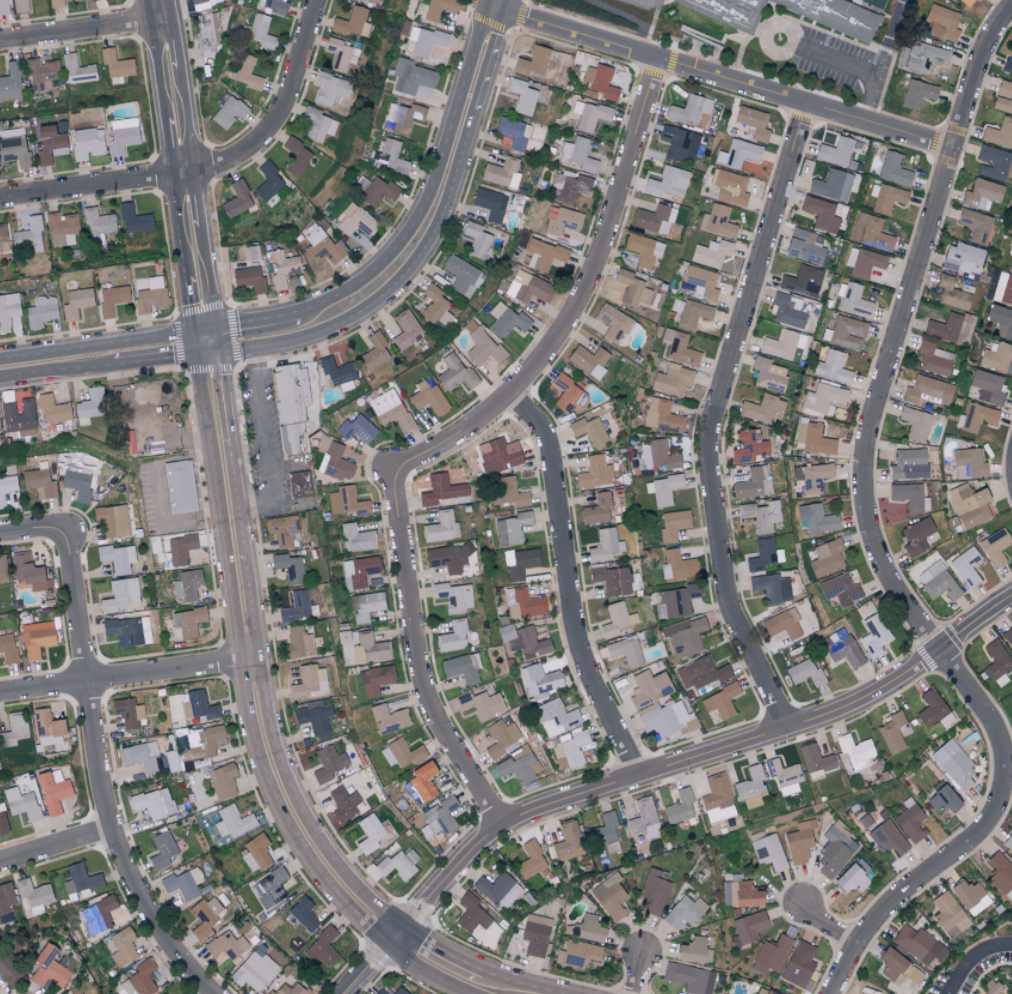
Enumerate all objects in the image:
building: (92, 0)
building: (659, 0)
building: (62, 1)
building: (373, 1)
building: (882, 2)
building: (967, 2)
building: (200, 4)
building: (20, 6)
building: (277, 6)
building: (3, 7)
road: (499, 9)
building: (441, 11)
building: (353, 22)
building: (942, 22)
road: (81, 28)
building: (854, 29)
building: (261, 32)
road: (768, 34)
building: (207, 35)
road: (886, 38)
building: (424, 41)
building: (340, 55)
building: (923, 56)
building: (532, 61)
building: (116, 64)
parking lot: (841, 64)
building: (1007, 66)
road: (853, 68)
building: (77, 70)
road: (974, 71)
building: (246, 72)
building: (41, 74)
building: (412, 78)
building: (10, 82)
building: (599, 82)
road: (723, 82)
building: (329, 89)
building: (917, 93)
building: (522, 97)
building: (1003, 97)
building: (227, 110)
building: (690, 110)
building: (589, 115)
building: (401, 117)
building: (753, 122)
building: (317, 124)
building: (513, 132)
building: (999, 133)
building: (122, 135)
building: (86, 143)
building: (49, 144)
building: (679, 144)
building: (13, 147)
building: (838, 152)
building: (738, 153)
building: (577, 155)
building: (296, 157)
building: (388, 157)
building: (992, 162)
road: (208, 165)
road: (184, 169)
building: (893, 169)
building: (501, 173)
building: (268, 182)
building: (667, 182)
building: (569, 185)
building: (831, 185)
building: (729, 187)
building: (374, 190)
building: (886, 198)
building: (237, 200)
building: (490, 204)
building: (821, 214)
building: (653, 219)
building: (134, 220)
building: (355, 220)
building: (561, 220)
building: (717, 221)
building: (976, 225)
building: (98, 226)
building: (61, 228)
building: (874, 232)
building: (29, 235)
building: (2, 238)
building: (476, 240)
road: (418, 244)
building: (321, 246)
building: (805, 246)
building: (643, 249)
building: (251, 253)
building: (710, 253)
building: (543, 254)
building: (963, 258)
building: (864, 262)
building: (1010, 263)
building: (282, 269)
building: (462, 276)
building: (249, 279)
building: (802, 281)
building: (701, 283)
building: (527, 288)
building: (632, 289)
building: (1003, 289)
building: (148, 293)
building: (953, 293)
building: (111, 299)
building: (853, 300)
building: (76, 303)
building: (435, 308)
building: (8, 310)
building: (39, 312)
building: (786, 312)
building: (693, 314)
building: (506, 320)
building: (1001, 320)
building: (613, 322)
building: (944, 328)
building: (405, 329)
building: (848, 332)
traffic signals: (206, 340)
building: (782, 344)
building: (679, 347)
building: (374, 352)
road: (103, 354)
building: (996, 357)
building: (587, 358)
building: (934, 359)
building: (832, 367)
building: (335, 371)
building: (455, 374)
building: (768, 374)
building: (672, 380)
building: (987, 387)
building: (928, 391)
building: (565, 392)
building: (428, 398)
building: (823, 400)
building: (7, 406)
building: (90, 406)
building: (292, 408)
building: (762, 409)
building: (389, 410)
building: (55, 412)
building: (662, 416)
building: (976, 417)
road: (712, 418)
building: (915, 423)
road: (207, 426)
building: (356, 429)
building: (589, 431)
road: (265, 436)
building: (813, 438)
road: (450, 439)
building: (749, 447)
building: (498, 455)
building: (658, 456)
building: (335, 463)
building: (908, 464)
building: (968, 464)
building: (595, 473)
building: (811, 478)
building: (39, 483)
building: (753, 483)
building: (77, 485)
building: (303, 486)
building: (7, 487)
building: (183, 488)
building: (662, 489)
road: (157, 491)
building: (442, 491)
building: (509, 492)
building: (910, 497)
building: (346, 501)
building: (970, 505)
building: (597, 510)
building: (761, 515)
building: (815, 519)
building: (112, 520)
building: (673, 524)
building: (441, 528)
road: (30, 529)
building: (511, 529)
building: (281, 533)
building: (916, 536)
building: (356, 539)
building: (605, 546)
building: (995, 547)
building: (180, 549)
building: (763, 555)
building: (117, 558)
building: (827, 558)
building: (447, 559)
building: (520, 563)
building: (678, 565)
building: (288, 567)
building: (966, 567)
building: (3, 571)
building: (358, 571)
building: (28, 573)
building: (616, 580)
building: (938, 582)
road: (568, 584)
building: (186, 585)
building: (774, 588)
building: (840, 589)
building: (121, 595)
building: (453, 597)
building: (675, 601)
building: (522, 603)
building: (365, 606)
road: (907, 606)
building: (296, 607)
building: (614, 620)
building: (186, 623)
building: (783, 625)
building: (128, 631)
building: (453, 636)
building: (685, 636)
building: (874, 636)
building: (1008, 638)
building: (36, 639)
building: (523, 641)
building: (297, 644)
building: (7, 649)
building: (369, 649)
building: (842, 650)
building: (625, 652)
road: (256, 656)
building: (997, 663)
building: (462, 667)
building: (701, 673)
road: (128, 674)
building: (805, 674)
building: (374, 680)
building: (539, 682)
building: (309, 683)
building: (648, 687)
building: (720, 702)
building: (197, 705)
building: (481, 705)
building: (933, 709)
building: (127, 712)
building: (314, 717)
building: (555, 717)
building: (388, 719)
building: (668, 719)
building: (47, 727)
building: (14, 728)
building: (892, 732)
building: (500, 739)
building: (207, 741)
building: (570, 749)
road: (258, 751)
building: (855, 751)
building: (401, 753)
road: (701, 756)
building: (141, 757)
building: (815, 760)
building: (327, 763)
building: (954, 765)
building: (519, 768)
road: (106, 773)
building: (785, 777)
building: (222, 780)
building: (421, 781)
building: (751, 787)
building: (52, 790)
building: (941, 797)
building: (716, 798)
building: (21, 802)
building: (153, 802)
building: (343, 803)
building: (679, 806)
building: (438, 817)
building: (644, 818)
building: (2, 820)
building: (910, 820)
building: (233, 821)
building: (606, 831)
building: (369, 832)
building: (887, 837)
building: (568, 841)
building: (799, 841)
building: (1008, 841)
road: (57, 846)
building: (161, 849)
building: (256, 851)
building: (768, 851)
building: (531, 861)
building: (398, 864)
building: (1000, 872)
building: (852, 876)
building: (79, 879)
building: (183, 882)
building: (268, 888)
building: (498, 889)
building: (653, 891)
building: (746, 894)
building: (33, 896)
building: (610, 896)
building: (970, 896)
building: (5, 901)
building: (683, 912)
building: (471, 913)
building: (303, 914)
building: (948, 914)
building: (97, 915)
building: (204, 916)
road: (829, 925)
building: (749, 926)
building: (590, 927)
building: (535, 934)
road: (399, 938)
building: (226, 944)
building: (918, 944)
building: (122, 946)
building: (321, 947)
building: (694, 950)
building: (577, 953)
building: (771, 954)
road: (971, 957)
building: (890, 963)
building: (798, 964)
building: (48, 967)
road: (486, 968)
building: (8, 970)
building: (254, 971)
road: (370, 971)
road: (431, 971)
road: (638, 974)
building: (689, 977)
building: (140, 979)
building: (288, 989)
building: (992, 989)
building: (399, 991)
building: (763, 991)
building: (380, 992)
building: (80, 993)

